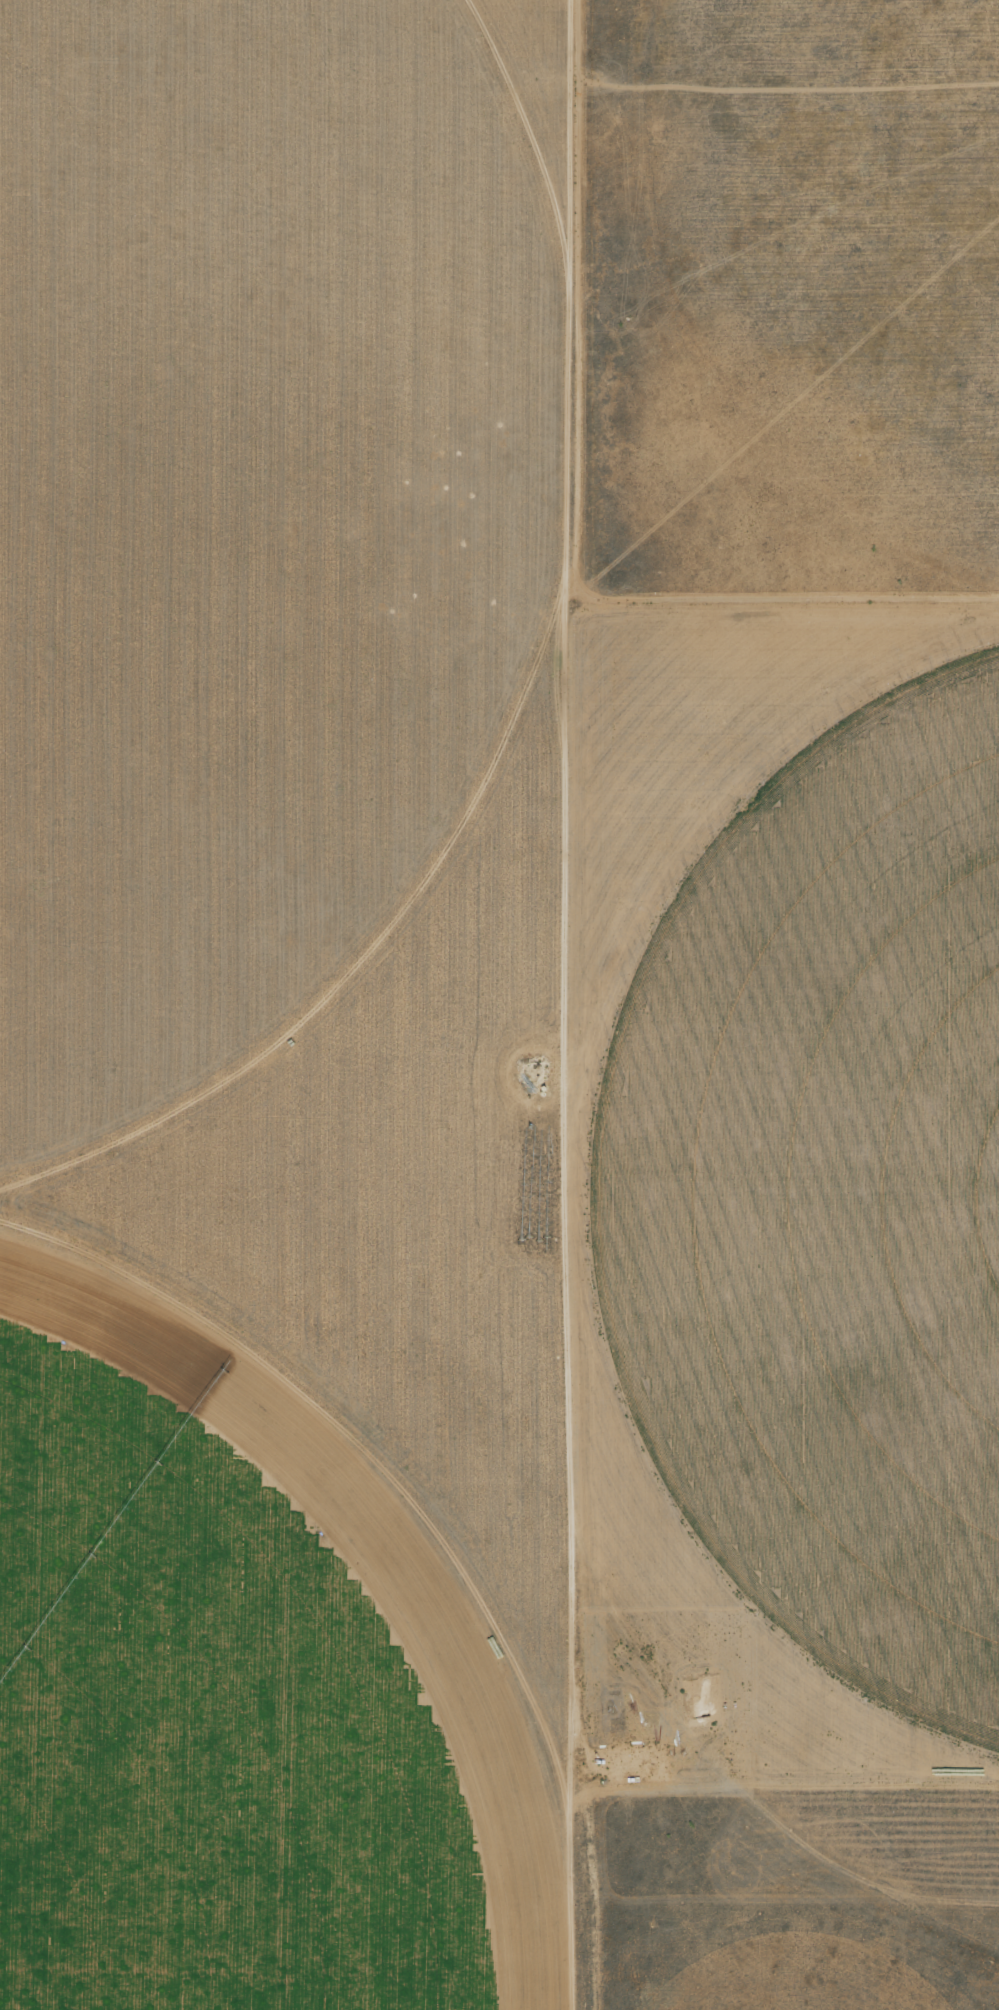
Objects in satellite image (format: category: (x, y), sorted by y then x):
road: (522, 133)
road: (565, 138)
road: (581, 305)
road: (730, 809)
road: (449, 835)
road: (561, 1297)
road: (737, 1785)

